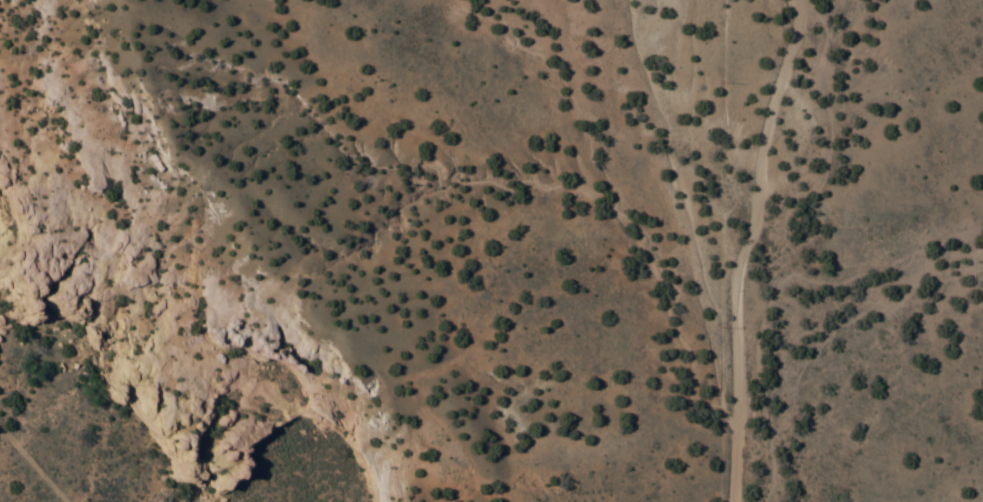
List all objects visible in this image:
road: (748, 248)

